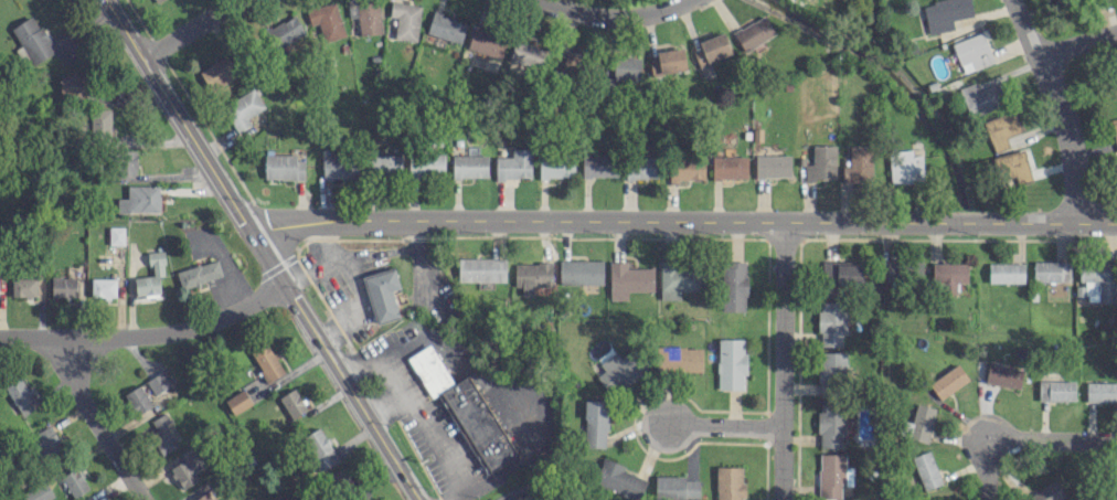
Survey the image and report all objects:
building: (155, 0)
building: (1063, 1)
building: (945, 13)
building: (365, 15)
road: (614, 19)
building: (326, 20)
building: (405, 20)
road: (193, 26)
building: (445, 28)
building: (285, 31)
building: (753, 32)
building: (33, 39)
building: (487, 41)
building: (714, 46)
road: (1075, 46)
building: (972, 52)
building: (526, 54)
building: (699, 56)
building: (670, 60)
building: (572, 64)
building: (626, 66)
building: (221, 71)
building: (73, 85)
building: (981, 95)
building: (243, 108)
road: (1057, 110)
building: (100, 120)
building: (1001, 128)
building: (1114, 130)
building: (124, 162)
building: (821, 162)
building: (385, 163)
building: (426, 163)
building: (858, 163)
building: (514, 164)
building: (598, 164)
building: (284, 166)
building: (339, 166)
building: (469, 166)
building: (555, 166)
building: (641, 166)
building: (728, 166)
building: (772, 166)
building: (904, 166)
building: (1013, 167)
building: (685, 168)
building: (139, 199)
road: (681, 222)
building: (116, 234)
road: (265, 251)
building: (480, 268)
building: (1051, 270)
building: (581, 272)
building: (1006, 272)
building: (198, 273)
building: (904, 273)
building: (841, 274)
building: (150, 275)
building: (531, 276)
building: (948, 276)
building: (628, 279)
building: (678, 279)
building: (1097, 280)
building: (733, 285)
building: (23, 286)
building: (63, 286)
building: (103, 287)
building: (381, 292)
building: (831, 322)
road: (148, 334)
building: (678, 359)
building: (266, 361)
road: (780, 361)
building: (731, 363)
road: (361, 366)
building: (618, 371)
building: (831, 371)
building: (1003, 374)
building: (168, 379)
building: (948, 381)
building: (1055, 390)
building: (1100, 391)
building: (21, 395)
building: (138, 398)
road: (383, 400)
building: (237, 401)
building: (292, 402)
building: (464, 407)
road: (417, 412)
road: (95, 422)
building: (595, 423)
road: (720, 423)
building: (918, 423)
building: (830, 424)
road: (970, 426)
building: (163, 433)
road: (1052, 438)
building: (47, 442)
building: (319, 448)
road: (524, 455)
building: (187, 469)
building: (926, 469)
road: (982, 471)
building: (830, 475)
building: (619, 479)
building: (74, 481)
building: (728, 482)
building: (675, 488)
building: (39, 492)
building: (203, 496)
building: (942, 499)

